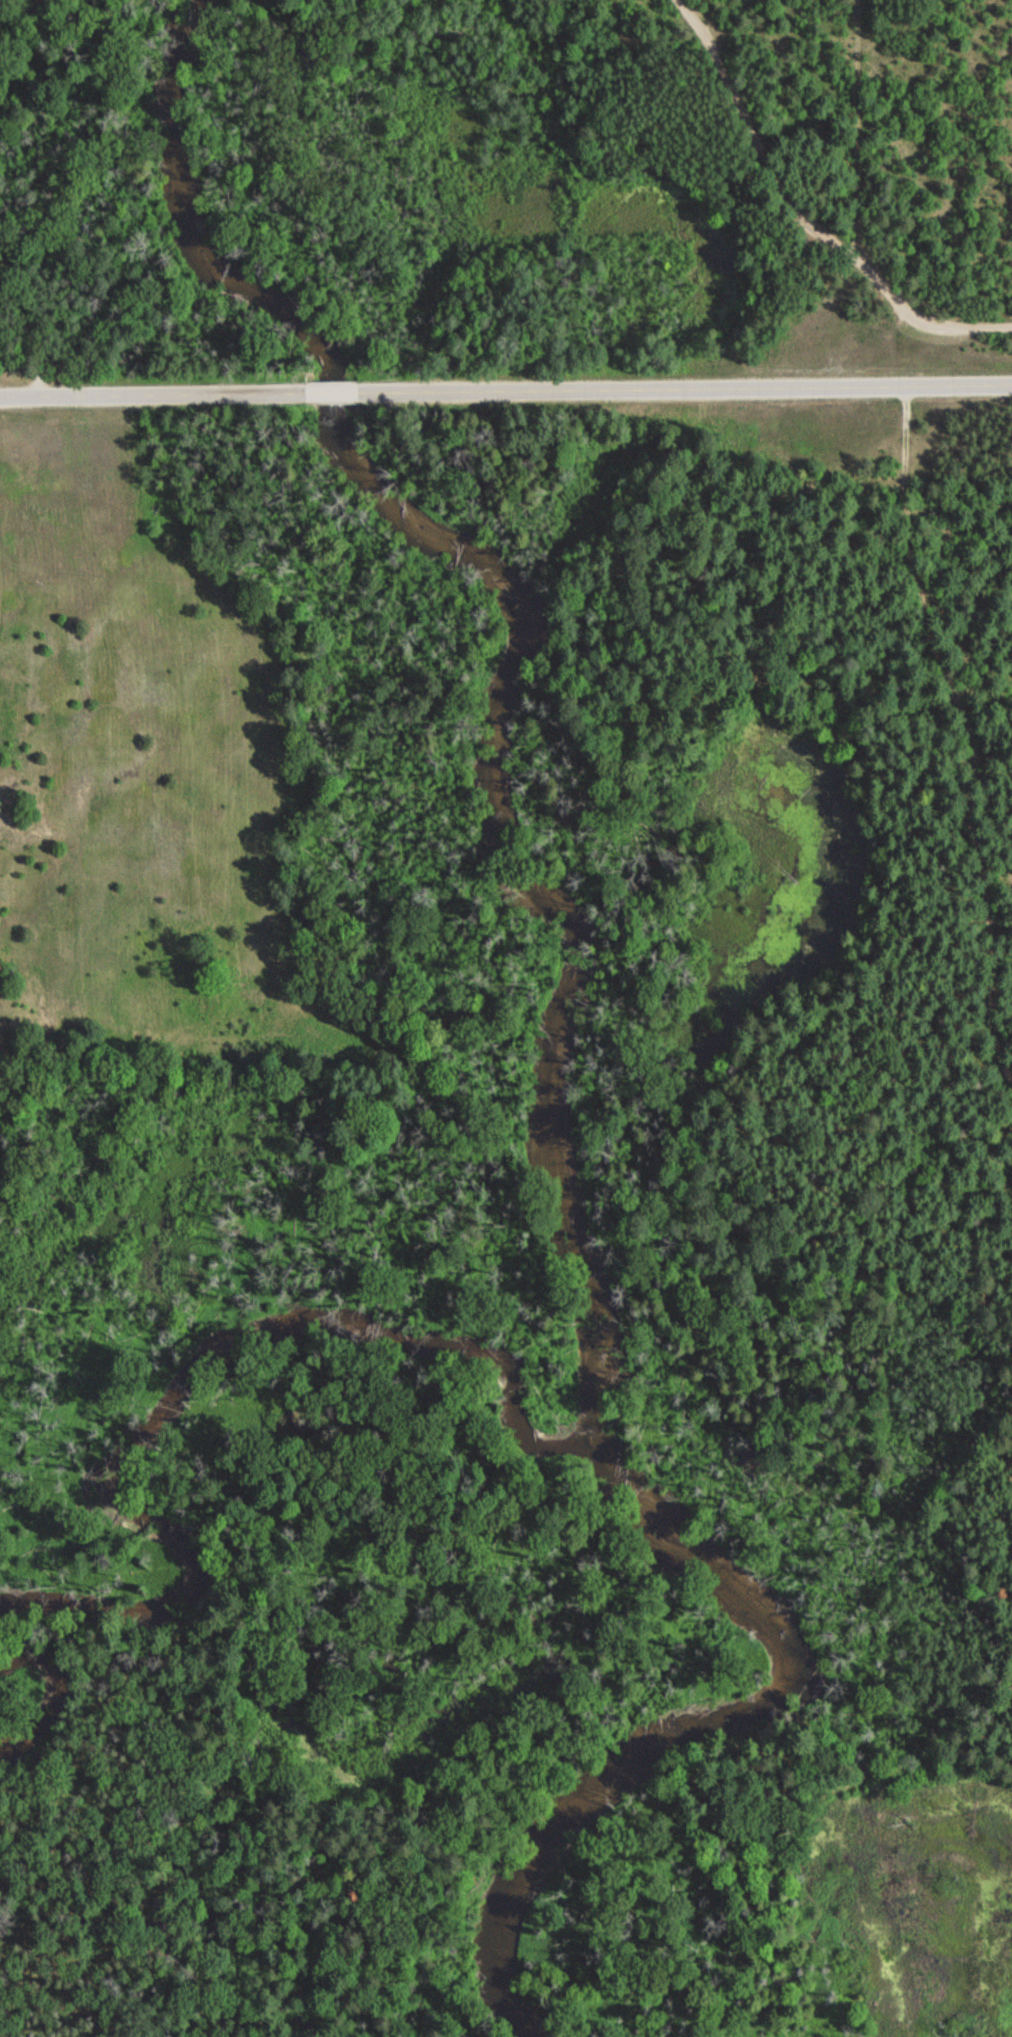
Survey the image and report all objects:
river: (4, 2)
road: (209, 6)
road: (892, 150)
road: (800, 215)
road: (11, 313)
road: (684, 387)
road: (331, 392)
road: (153, 396)
river: (554, 1046)
river: (188, 1380)
river: (44, 1700)

